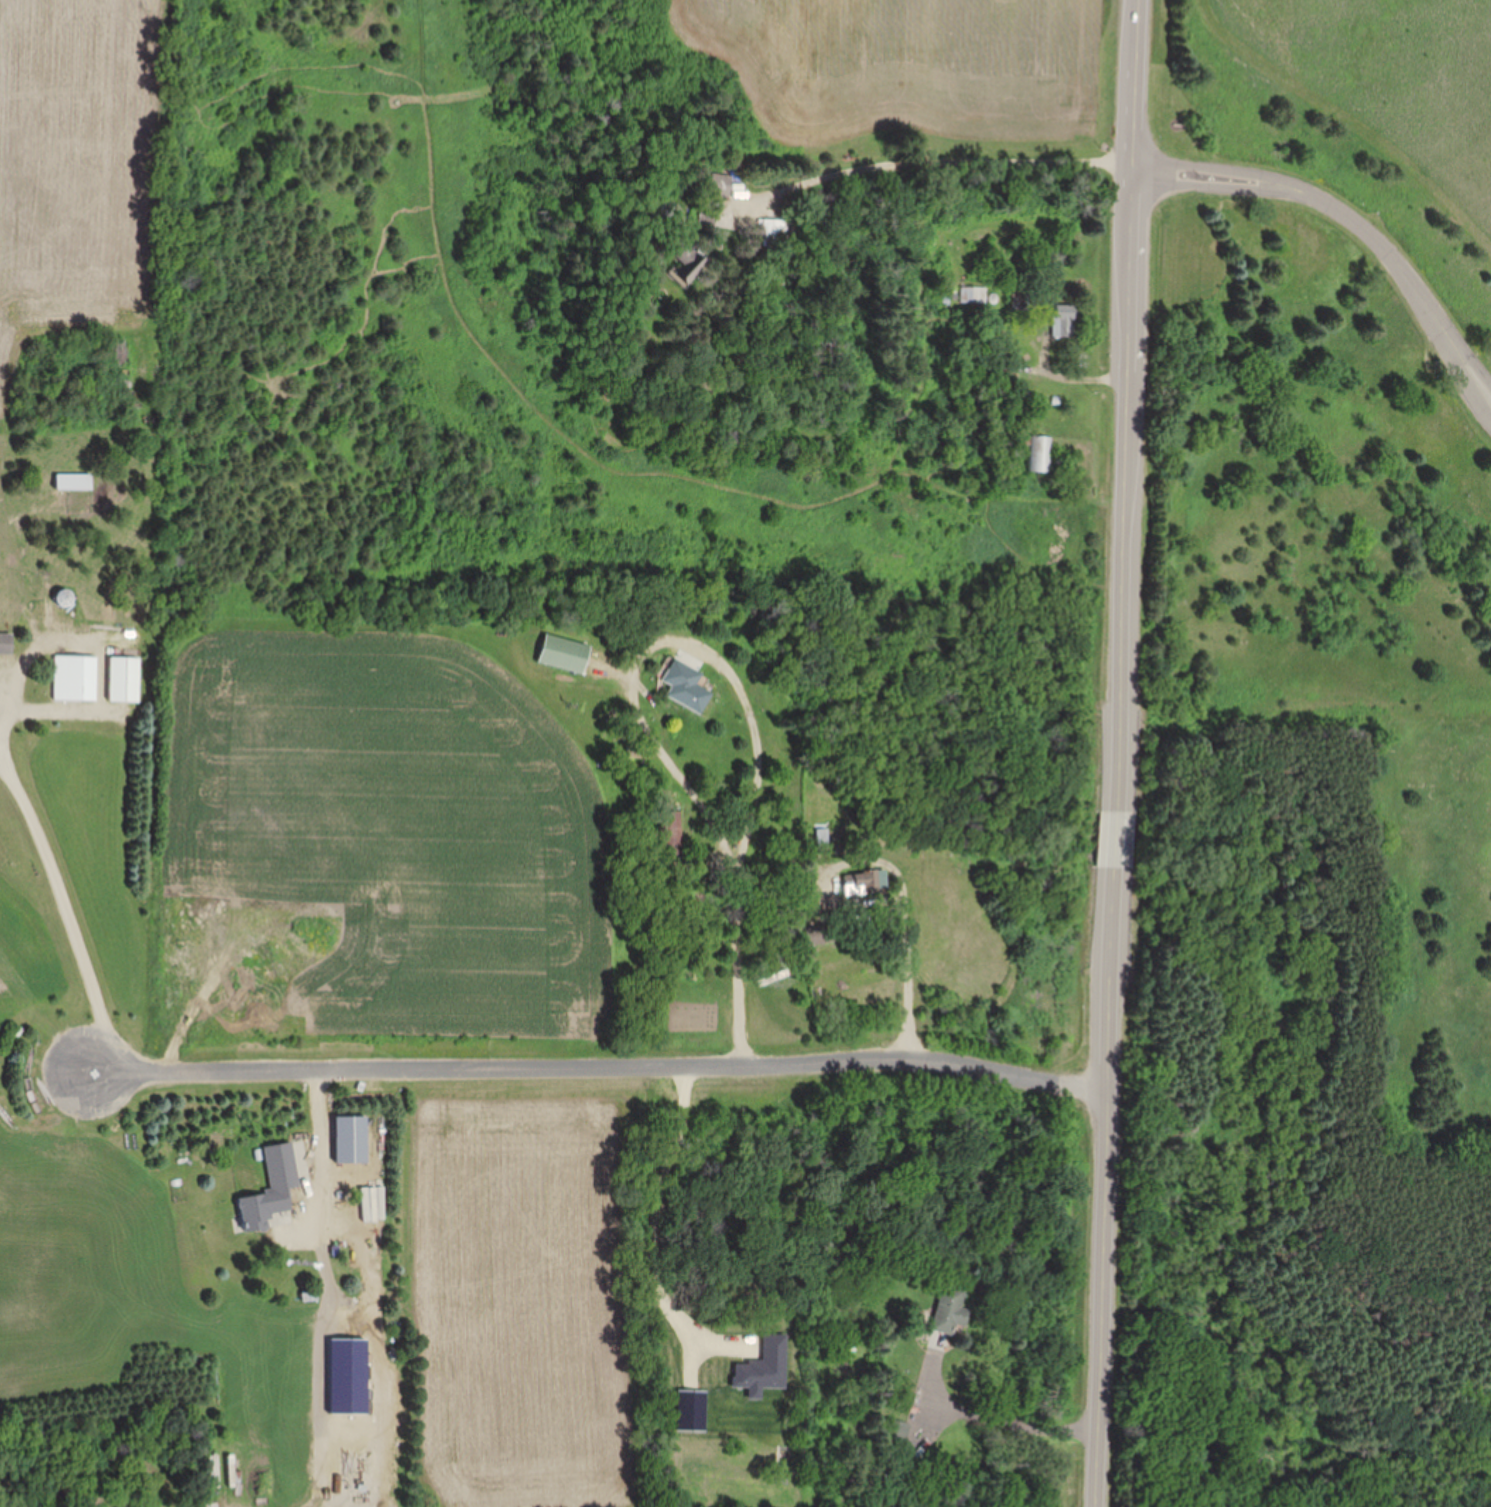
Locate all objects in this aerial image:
road: (1139, 83)
road: (931, 154)
building: (718, 184)
road: (1351, 221)
building: (774, 233)
building: (686, 264)
building: (1037, 454)
building: (71, 483)
road: (1131, 488)
building: (62, 599)
building: (5, 643)
building: (562, 654)
road: (100, 656)
building: (72, 679)
building: (122, 680)
building: (684, 688)
road: (2, 714)
road: (637, 716)
park: (1310, 769)
building: (697, 835)
road: (1119, 838)
building: (858, 884)
road: (66, 915)
road: (907, 955)
road: (599, 1067)
road: (318, 1143)
road: (1109, 1186)
building: (269, 1188)
road: (649, 1223)
building: (949, 1309)
road: (1011, 1423)

